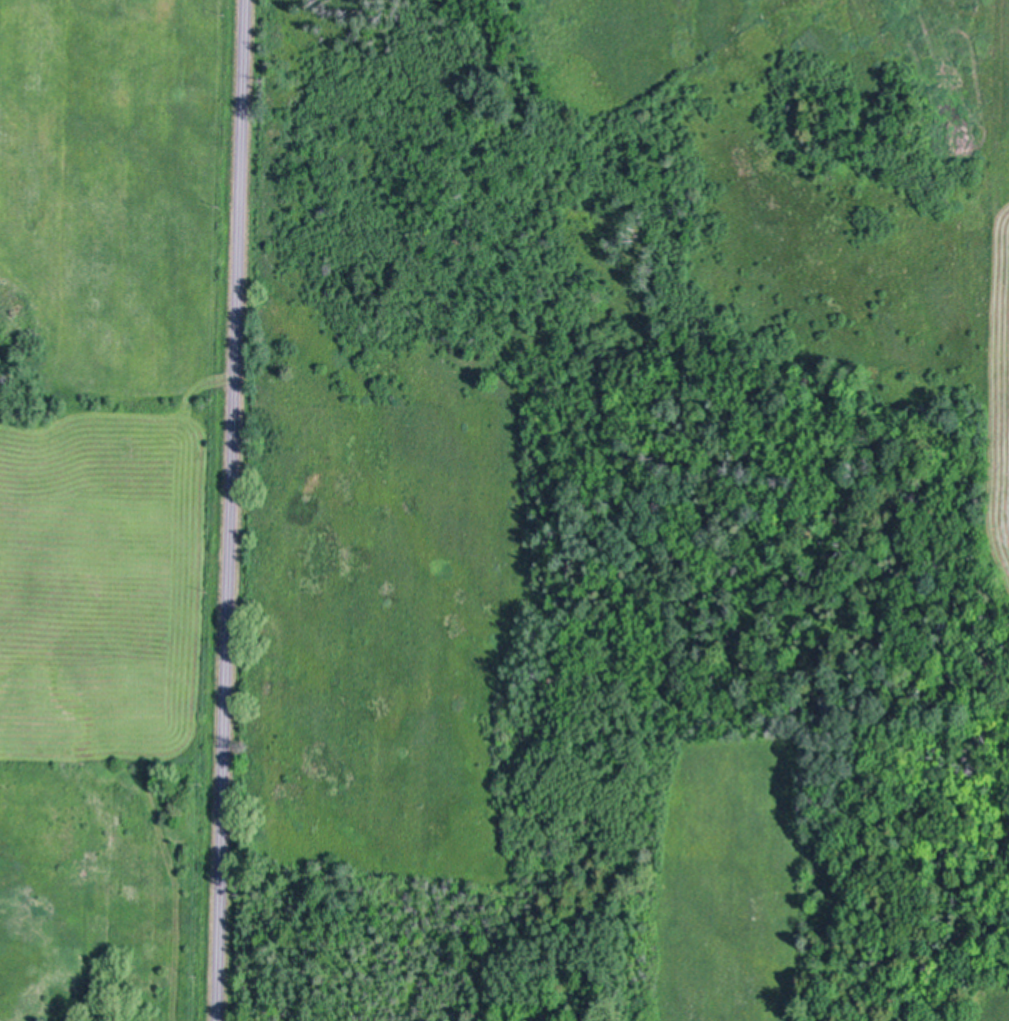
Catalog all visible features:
road: (231, 510)

